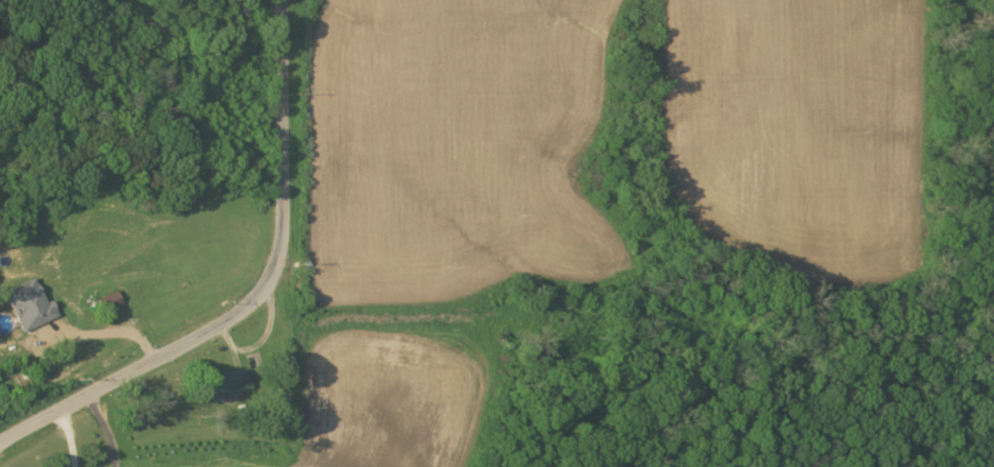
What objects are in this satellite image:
road: (275, 260)
building: (110, 302)
building: (28, 306)
building: (225, 383)
road: (32, 424)
road: (70, 437)

